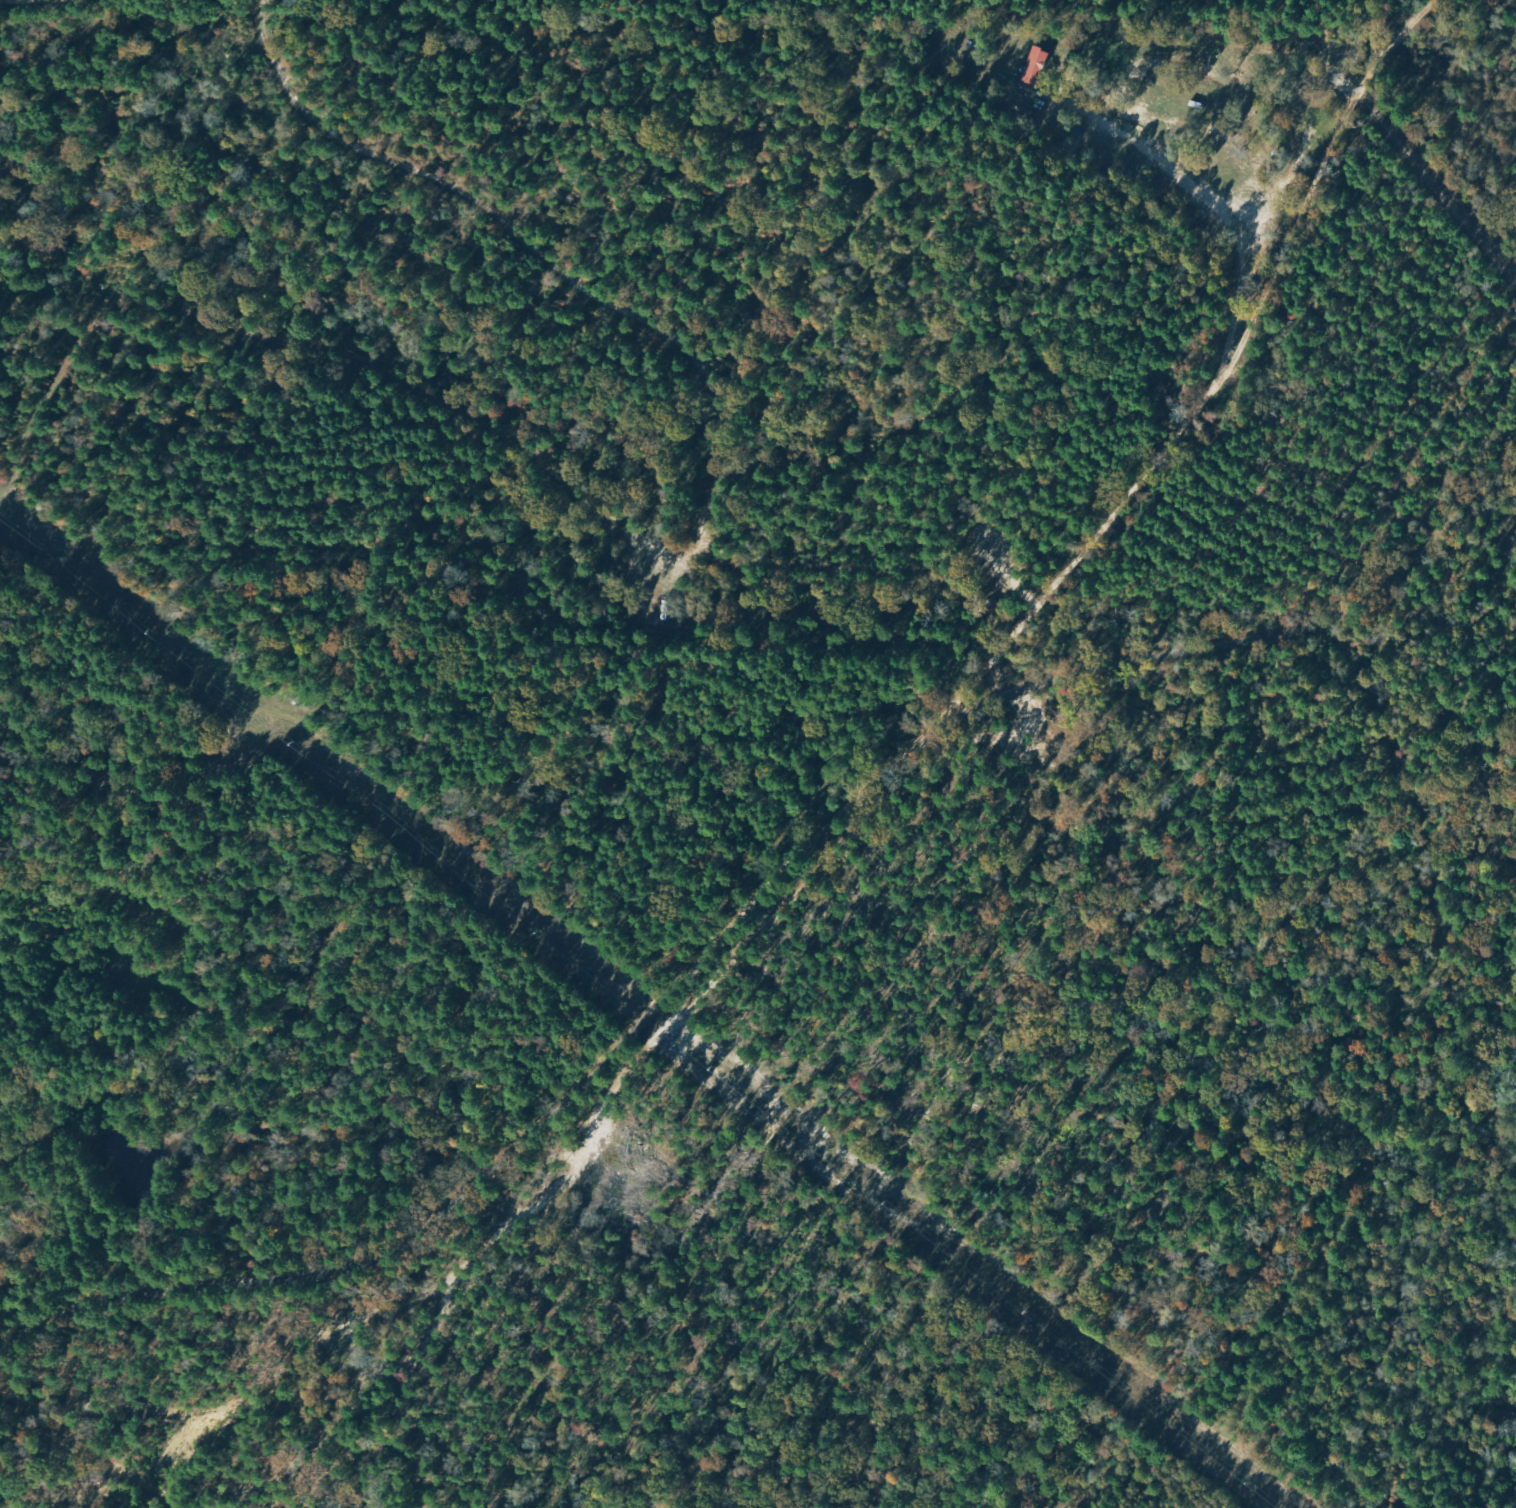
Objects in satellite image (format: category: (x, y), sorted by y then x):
building: (1037, 66)
road: (757, 914)

